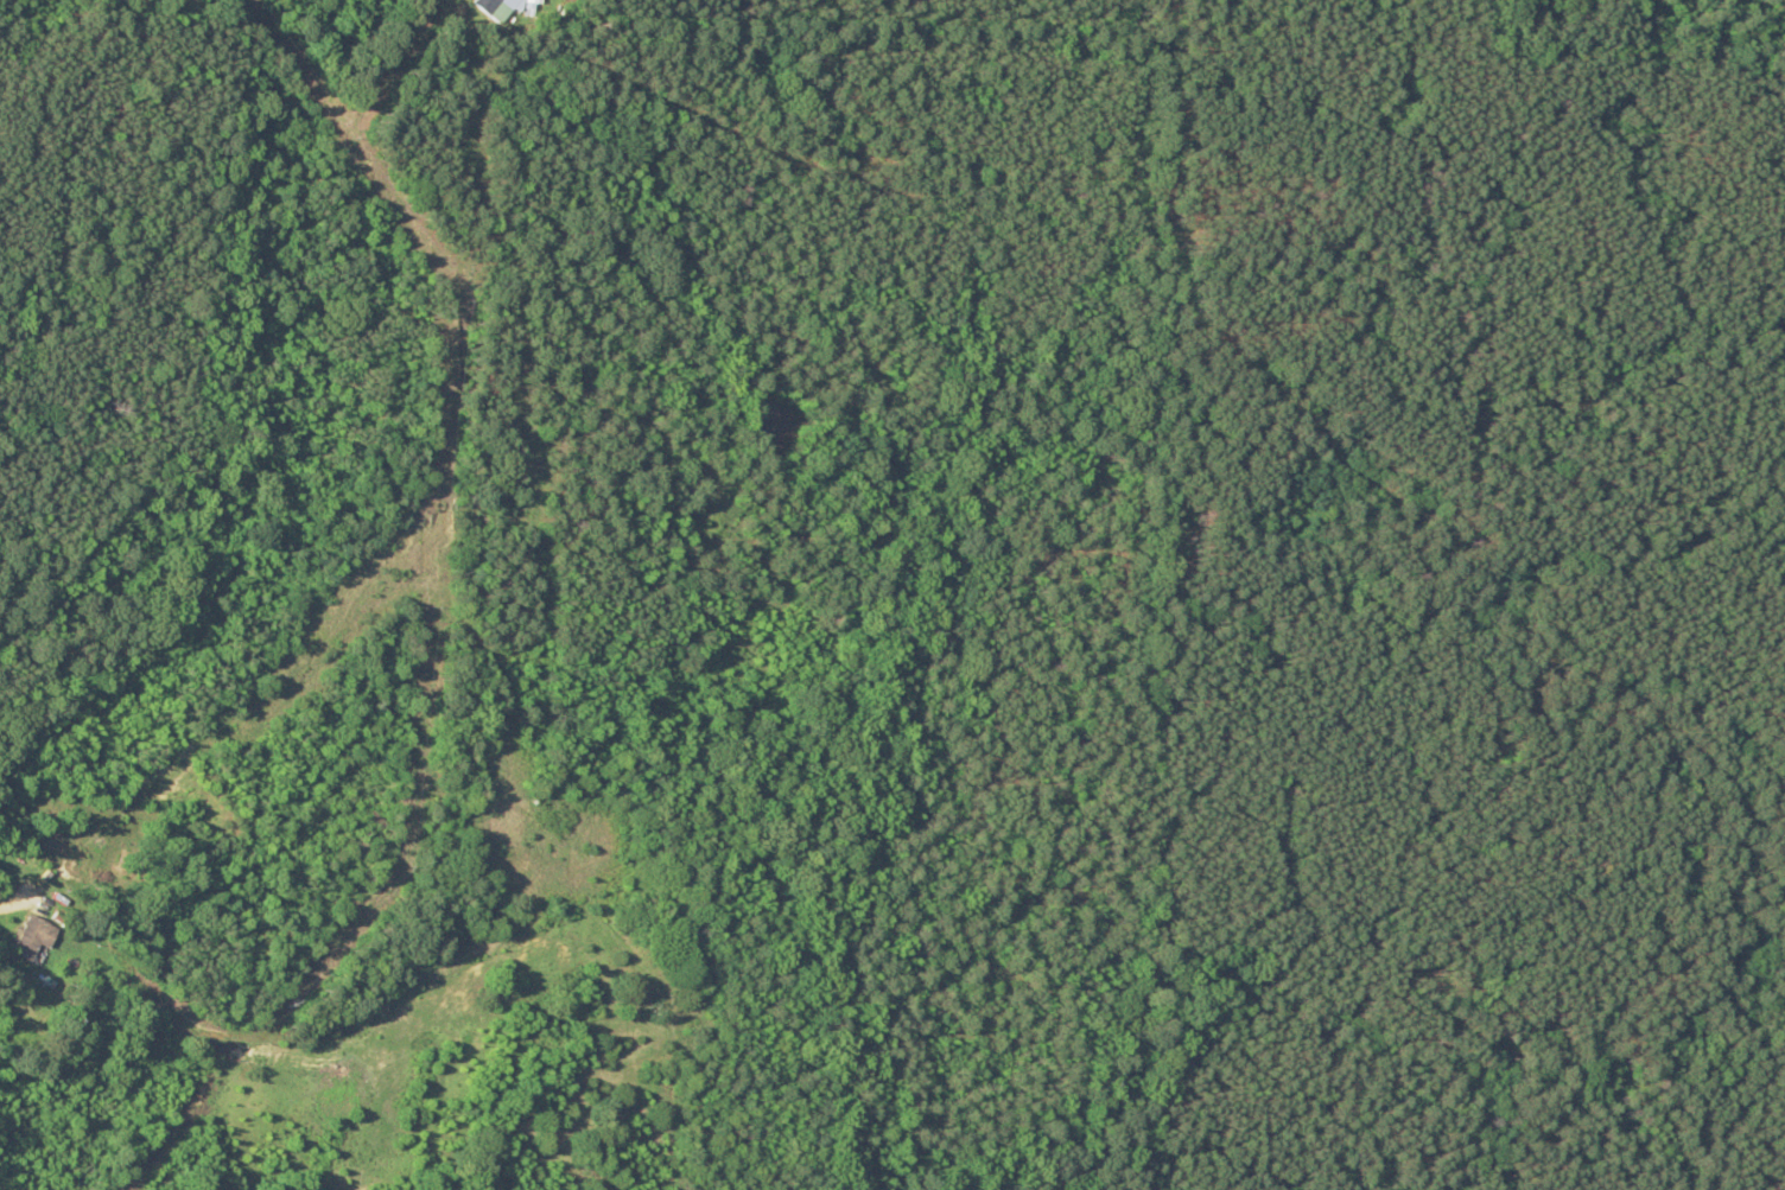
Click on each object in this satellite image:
building: (479, 7)
road: (6, 906)
building: (26, 936)

